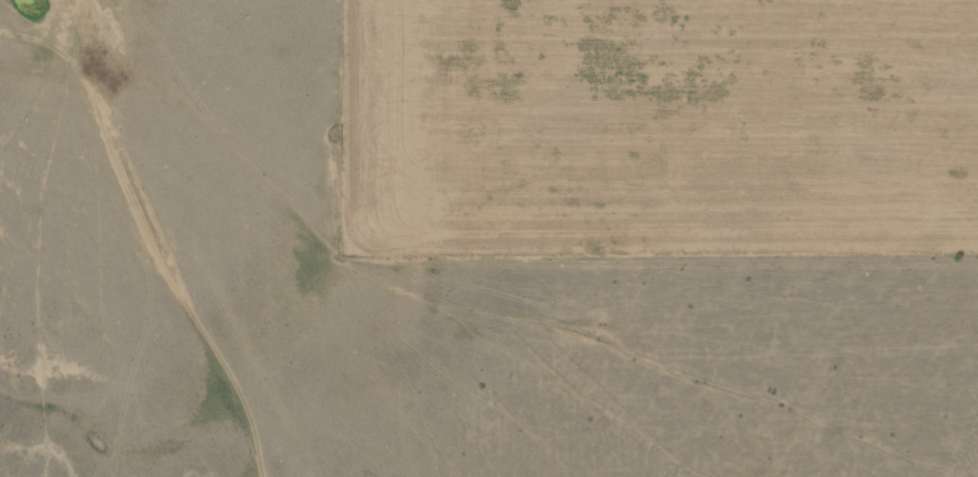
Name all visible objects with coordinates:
road: (184, 291)

